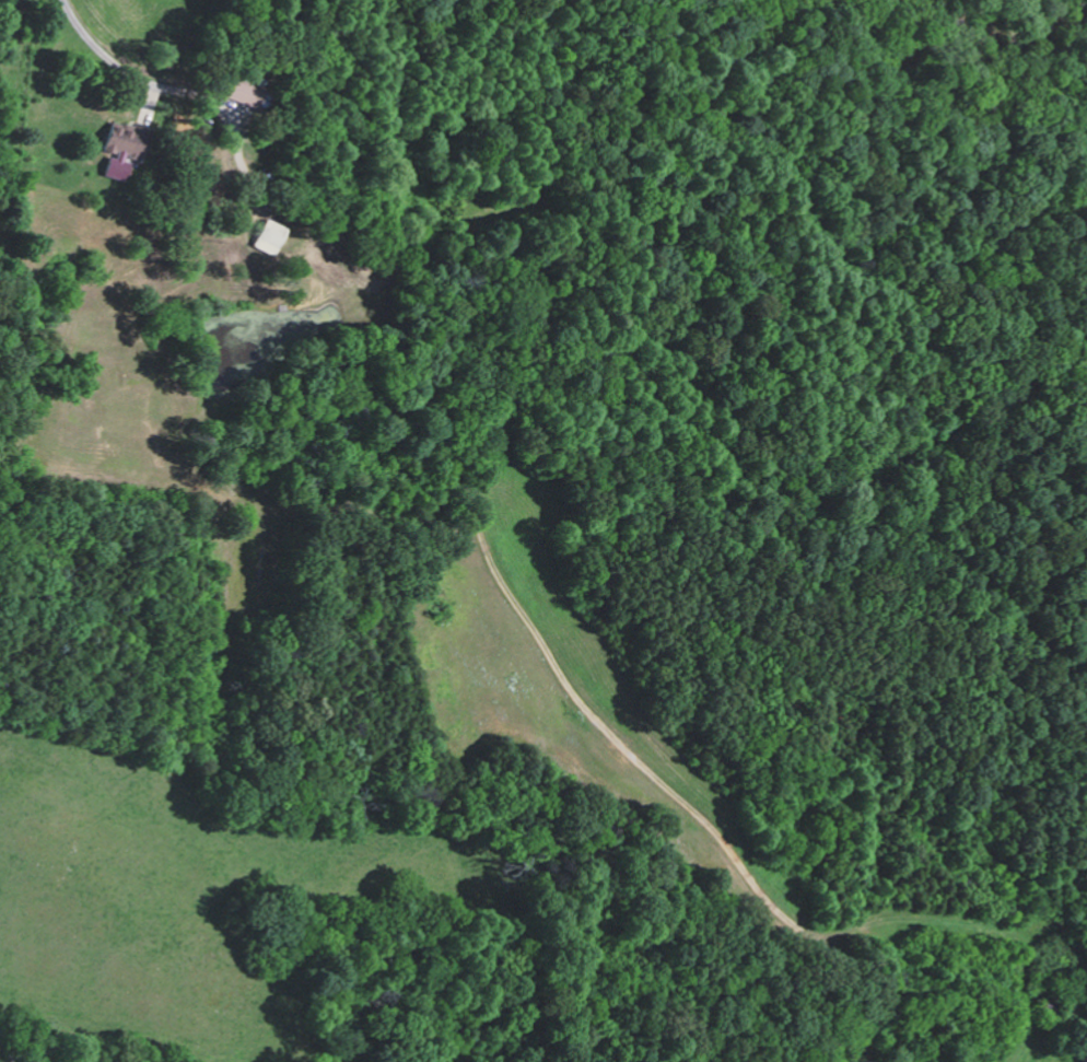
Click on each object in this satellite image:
building: (244, 91)
road: (237, 128)
building: (125, 147)

